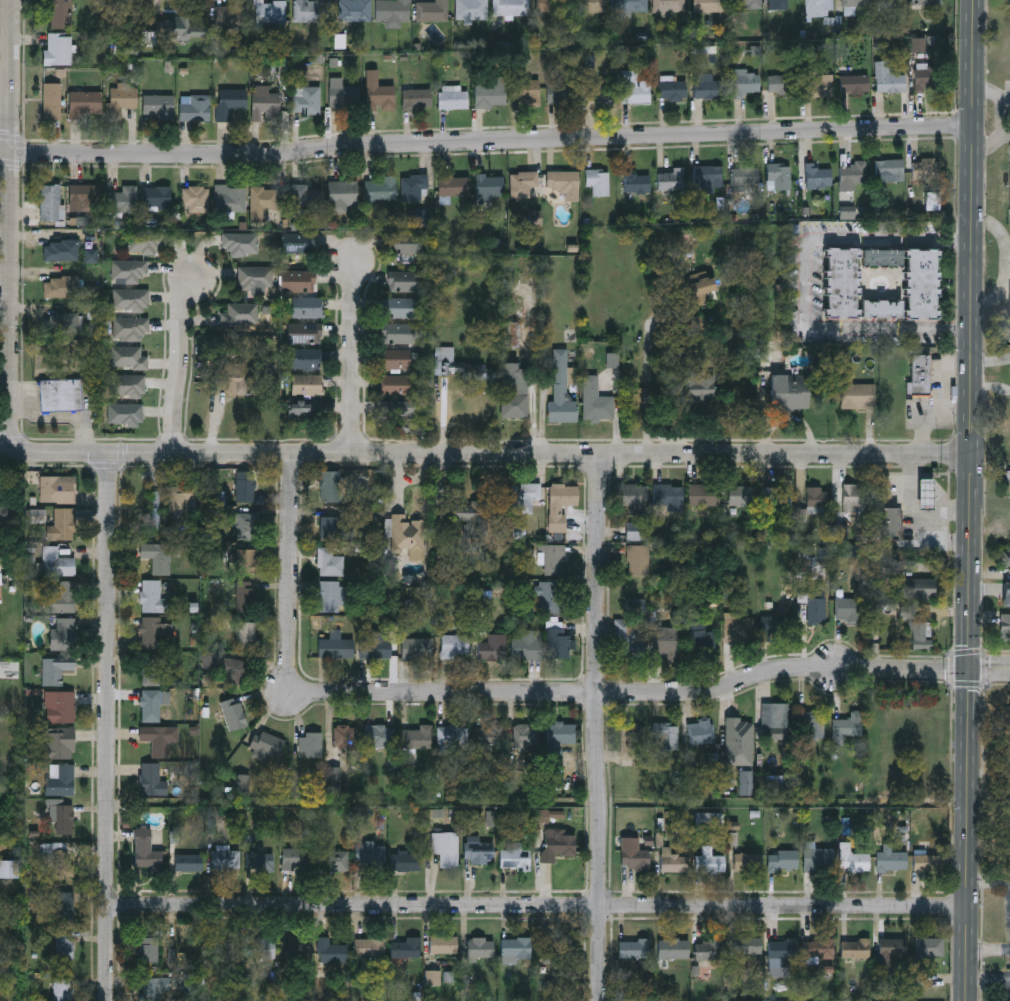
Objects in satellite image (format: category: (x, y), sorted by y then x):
building: (892, 2)
building: (927, 2)
building: (746, 3)
building: (856, 3)
building: (709, 5)
building: (778, 5)
building: (630, 6)
building: (669, 6)
building: (510, 7)
building: (589, 7)
building: (819, 8)
building: (356, 10)
building: (472, 10)
building: (312, 11)
building: (393, 11)
building: (432, 11)
building: (269, 12)
building: (61, 14)
building: (231, 16)
building: (197, 19)
building: (59, 49)
building: (889, 77)
building: (924, 77)
building: (744, 81)
building: (784, 83)
building: (855, 83)
building: (704, 85)
building: (818, 86)
building: (635, 87)
building: (600, 89)
building: (672, 89)
building: (526, 91)
building: (378, 92)
building: (490, 92)
building: (563, 92)
building: (343, 93)
road: (6, 94)
road: (1007, 95)
building: (123, 97)
building: (453, 97)
building: (417, 98)
building: (306, 99)
building: (52, 101)
building: (229, 102)
building: (265, 102)
building: (85, 104)
building: (158, 104)
building: (195, 109)
road: (1003, 117)
road: (1006, 135)
road: (487, 140)
building: (890, 168)
building: (926, 170)
building: (852, 173)
building: (780, 174)
building: (744, 175)
building: (708, 176)
building: (819, 176)
building: (671, 179)
building: (598, 181)
building: (636, 181)
building: (523, 182)
building: (564, 183)
building: (414, 186)
building: (452, 186)
building: (489, 187)
building: (381, 190)
building: (342, 192)
building: (86, 196)
building: (306, 196)
building: (156, 198)
building: (122, 199)
building: (196, 199)
building: (231, 199)
building: (263, 201)
building: (50, 202)
building: (420, 218)
road: (12, 225)
building: (144, 242)
building: (298, 242)
building: (407, 243)
building: (241, 244)
building: (61, 250)
building: (883, 259)
road: (1009, 262)
building: (128, 271)
building: (256, 277)
building: (297, 281)
building: (405, 281)
road: (805, 284)
building: (843, 284)
building: (923, 284)
building: (62, 287)
building: (702, 289)
building: (131, 300)
building: (307, 307)
building: (399, 307)
building: (883, 309)
building: (242, 314)
building: (61, 325)
building: (131, 328)
building: (304, 333)
building: (396, 333)
road: (354, 356)
building: (128, 358)
building: (306, 359)
building: (395, 359)
road: (182, 361)
building: (457, 365)
building: (920, 375)
road: (648, 377)
building: (237, 379)
building: (306, 384)
building: (127, 385)
building: (395, 386)
building: (701, 386)
building: (514, 391)
building: (791, 392)
building: (61, 395)
building: (858, 396)
building: (596, 401)
building: (304, 408)
building: (397, 410)
building: (125, 414)
road: (493, 450)
road: (6, 451)
road: (909, 473)
building: (1009, 482)
building: (330, 486)
building: (55, 487)
building: (245, 487)
building: (926, 494)
building: (704, 495)
building: (740, 495)
building: (778, 496)
building: (524, 497)
building: (632, 497)
building: (669, 497)
building: (818, 497)
road: (927, 497)
building: (181, 498)
building: (854, 498)
road: (974, 500)
building: (561, 504)
road: (953, 508)
building: (154, 509)
building: (7, 514)
building: (473, 518)
building: (888, 523)
building: (62, 525)
building: (246, 526)
building: (331, 528)
building: (637, 531)
building: (408, 536)
building: (157, 557)
building: (1006, 559)
building: (554, 560)
building: (638, 560)
building: (246, 561)
building: (329, 562)
building: (57, 563)
road: (289, 580)
building: (916, 588)
building: (1006, 594)
building: (246, 596)
building: (332, 596)
building: (152, 597)
building: (551, 597)
building: (62, 598)
building: (635, 606)
building: (812, 610)
building: (848, 610)
building: (774, 624)
building: (740, 627)
building: (1005, 627)
building: (918, 630)
building: (153, 633)
building: (64, 634)
building: (244, 635)
building: (629, 638)
building: (707, 640)
building: (558, 643)
building: (335, 646)
building: (455, 646)
building: (375, 648)
building: (493, 648)
building: (417, 649)
building: (526, 649)
building: (664, 649)
building: (56, 669)
building: (150, 669)
traffic signals: (972, 669)
road: (991, 669)
building: (230, 670)
road: (648, 695)
building: (151, 706)
building: (60, 707)
building: (233, 715)
building: (775, 721)
road: (108, 725)
road: (597, 725)
building: (813, 726)
building: (847, 727)
building: (736, 731)
building: (702, 732)
building: (561, 733)
building: (491, 734)
building: (667, 735)
building: (345, 736)
building: (379, 736)
building: (452, 738)
building: (525, 738)
building: (159, 739)
building: (416, 739)
building: (631, 740)
building: (58, 743)
building: (310, 744)
building: (266, 745)
building: (59, 779)
building: (152, 780)
building: (746, 783)
building: (781, 784)
building: (61, 820)
building: (559, 844)
building: (446, 848)
building: (146, 851)
building: (478, 852)
building: (370, 855)
building: (516, 857)
building: (296, 859)
building: (635, 859)
building: (820, 859)
building: (853, 859)
building: (57, 860)
building: (226, 860)
building: (260, 861)
building: (334, 861)
building: (672, 861)
building: (782, 861)
building: (891, 861)
building: (709, 862)
building: (747, 862)
building: (931, 862)
building: (188, 863)
building: (406, 863)
building: (8, 869)
road: (990, 875)
building: (62, 906)
road: (538, 906)
building: (443, 945)
building: (749, 946)
building: (260, 947)
building: (893, 947)
building: (929, 947)
road: (989, 947)
building: (224, 948)
building: (299, 948)
building: (407, 948)
building: (480, 948)
building: (516, 948)
building: (370, 949)
building: (634, 949)
building: (673, 949)
building: (710, 949)
building: (819, 949)
building: (64, 950)
building: (148, 950)
building: (855, 950)
building: (332, 951)
building: (553, 951)
building: (782, 954)
road: (989, 976)
building: (63, 989)
building: (152, 989)

